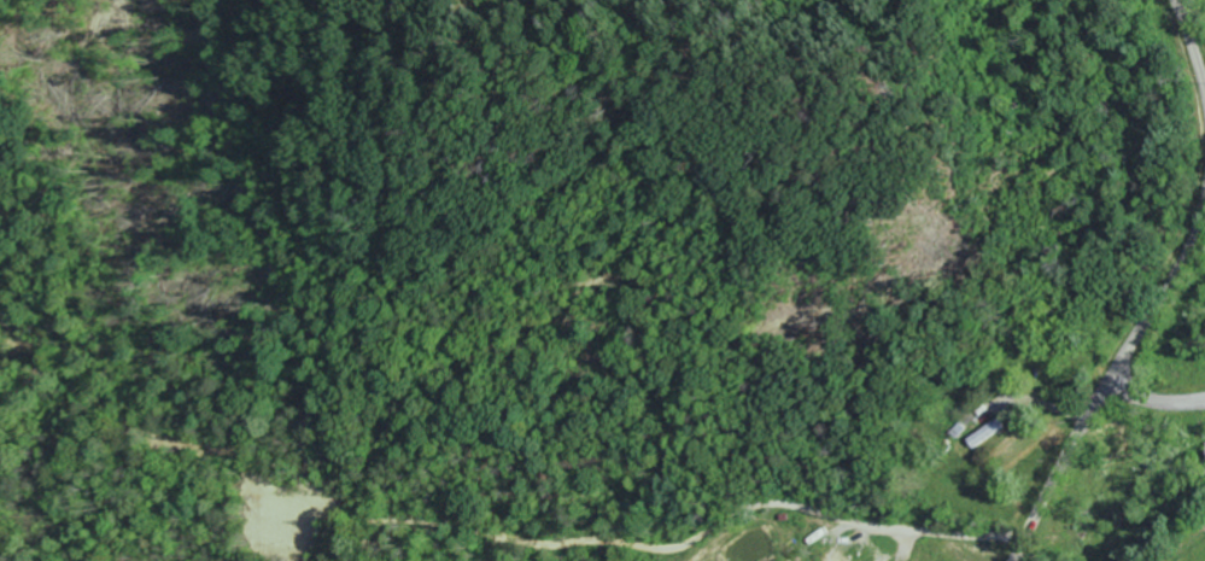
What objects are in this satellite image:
road: (1193, 40)
road: (1160, 299)
road: (1153, 403)
road: (1058, 472)

